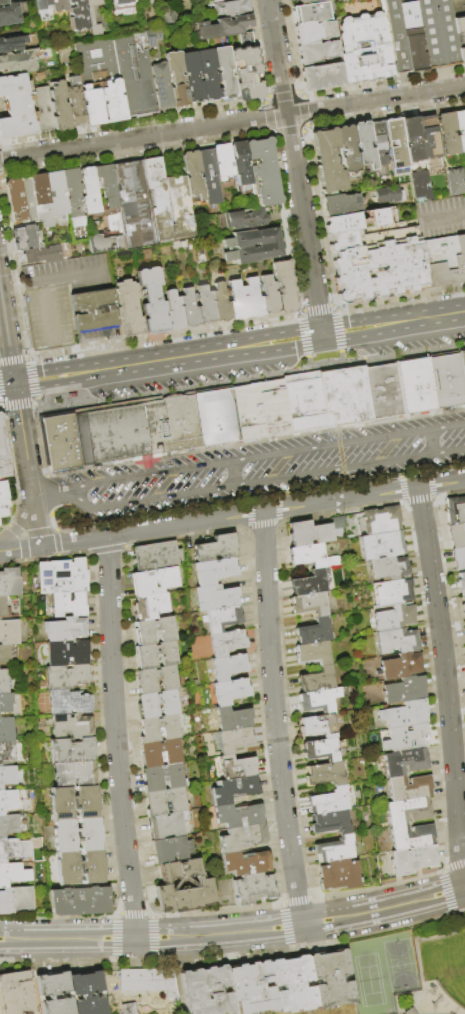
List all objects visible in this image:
building: (222, 1)
building: (306, 1)
building: (3, 2)
building: (42, 4)
building: (121, 4)
building: (59, 5)
building: (231, 9)
building: (310, 13)
building: (10, 15)
building: (78, 15)
building: (95, 15)
building: (170, 20)
building: (460, 27)
building: (223, 28)
building: (313, 32)
building: (439, 33)
building: (405, 36)
building: (13, 44)
building: (363, 48)
building: (315, 52)
building: (462, 56)
building: (19, 61)
building: (137, 71)
building: (225, 73)
building: (208, 75)
building: (248, 75)
building: (193, 77)
building: (321, 77)
building: (177, 79)
building: (101, 81)
building: (162, 86)
building: (76, 102)
building: (17, 107)
building: (60, 107)
building: (44, 109)
road: (232, 123)
building: (460, 130)
building: (447, 134)
building: (428, 137)
building: (411, 139)
building: (363, 144)
building: (396, 147)
building: (377, 148)
building: (347, 150)
building: (221, 161)
building: (327, 161)
building: (239, 163)
road: (294, 167)
building: (262, 172)
building: (191, 174)
building: (207, 177)
building: (455, 182)
building: (419, 187)
building: (106, 189)
building: (89, 193)
building: (387, 195)
building: (56, 196)
building: (72, 197)
building: (27, 199)
building: (40, 200)
building: (15, 201)
building: (177, 202)
building: (341, 204)
building: (127, 212)
parking lot: (127, 212)
building: (244, 218)
road: (445, 218)
building: (358, 220)
building: (24, 238)
building: (251, 239)
building: (40, 254)
building: (252, 254)
building: (444, 261)
building: (377, 264)
road: (66, 273)
road: (13, 282)
building: (284, 287)
building: (268, 295)
building: (151, 300)
building: (244, 300)
building: (219, 303)
building: (204, 305)
building: (128, 307)
building: (187, 309)
road: (48, 310)
building: (93, 311)
building: (172, 311)
parking lot: (48, 318)
road: (393, 322)
traffic signals: (321, 335)
road: (324, 352)
road: (160, 360)
building: (462, 363)
building: (447, 381)
traffic signals: (14, 384)
building: (416, 386)
road: (14, 389)
building: (384, 392)
building: (346, 397)
road: (331, 398)
building: (305, 403)
building: (273, 409)
building: (247, 413)
building: (216, 418)
building: (172, 425)
building: (112, 434)
road: (433, 441)
building: (62, 443)
building: (3, 453)
road: (259, 455)
road: (342, 461)
parking lot: (261, 468)
road: (235, 472)
road: (262, 479)
road: (32, 494)
building: (4, 500)
road: (46, 500)
road: (286, 507)
building: (455, 510)
road: (21, 519)
building: (381, 520)
road: (36, 524)
building: (313, 530)
building: (456, 534)
road: (74, 541)
building: (382, 544)
building: (215, 548)
road: (19, 549)
building: (312, 555)
building: (156, 556)
building: (458, 557)
building: (389, 567)
building: (213, 572)
building: (61, 577)
building: (153, 581)
building: (9, 582)
building: (309, 583)
building: (461, 583)
building: (393, 591)
building: (214, 598)
building: (68, 604)
building: (309, 604)
building: (463, 605)
building: (150, 606)
building: (3, 608)
building: (393, 617)
building: (221, 619)
building: (464, 622)
building: (63, 630)
building: (464, 630)
building: (154, 631)
building: (314, 631)
building: (9, 632)
building: (397, 640)
building: (225, 643)
building: (67, 653)
building: (313, 653)
building: (4, 655)
building: (154, 656)
building: (400, 666)
building: (226, 667)
building: (65, 677)
building: (317, 679)
building: (157, 680)
building: (3, 682)
road: (446, 687)
building: (404, 689)
building: (229, 691)
building: (319, 700)
building: (5, 703)
building: (67, 703)
building: (157, 704)
building: (404, 714)
road: (274, 718)
building: (231, 719)
building: (319, 725)
building: (70, 726)
building: (158, 729)
building: (6, 730)
road: (114, 737)
building: (405, 738)
building: (232, 740)
building: (323, 748)
building: (6, 751)
building: (70, 751)
building: (160, 753)
building: (404, 761)
building: (0, 765)
building: (235, 768)
building: (325, 773)
building: (72, 775)
building: (7, 776)
building: (162, 778)
building: (408, 787)
building: (232, 790)
building: (10, 801)
building: (329, 801)
building: (165, 802)
building: (72, 803)
building: (407, 810)
building: (236, 815)
building: (331, 822)
building: (8, 825)
building: (167, 826)
building: (76, 835)
building: (411, 836)
building: (241, 837)
building: (335, 848)
building: (9, 849)
building: (170, 850)
building: (412, 859)
building: (244, 863)
building: (78, 868)
building: (13, 874)
building: (339, 874)
building: (202, 886)
building: (251, 889)
building: (15, 900)
building: (78, 902)
road: (234, 933)
park: (400, 965)
park: (445, 965)
park: (410, 970)
building: (147, 980)
building: (330, 980)
park: (369, 980)
building: (291, 984)
building: (249, 987)
building: (205, 991)
building: (53, 993)
building: (86, 993)
building: (15, 994)
building: (127, 1008)
building: (409, 1011)

